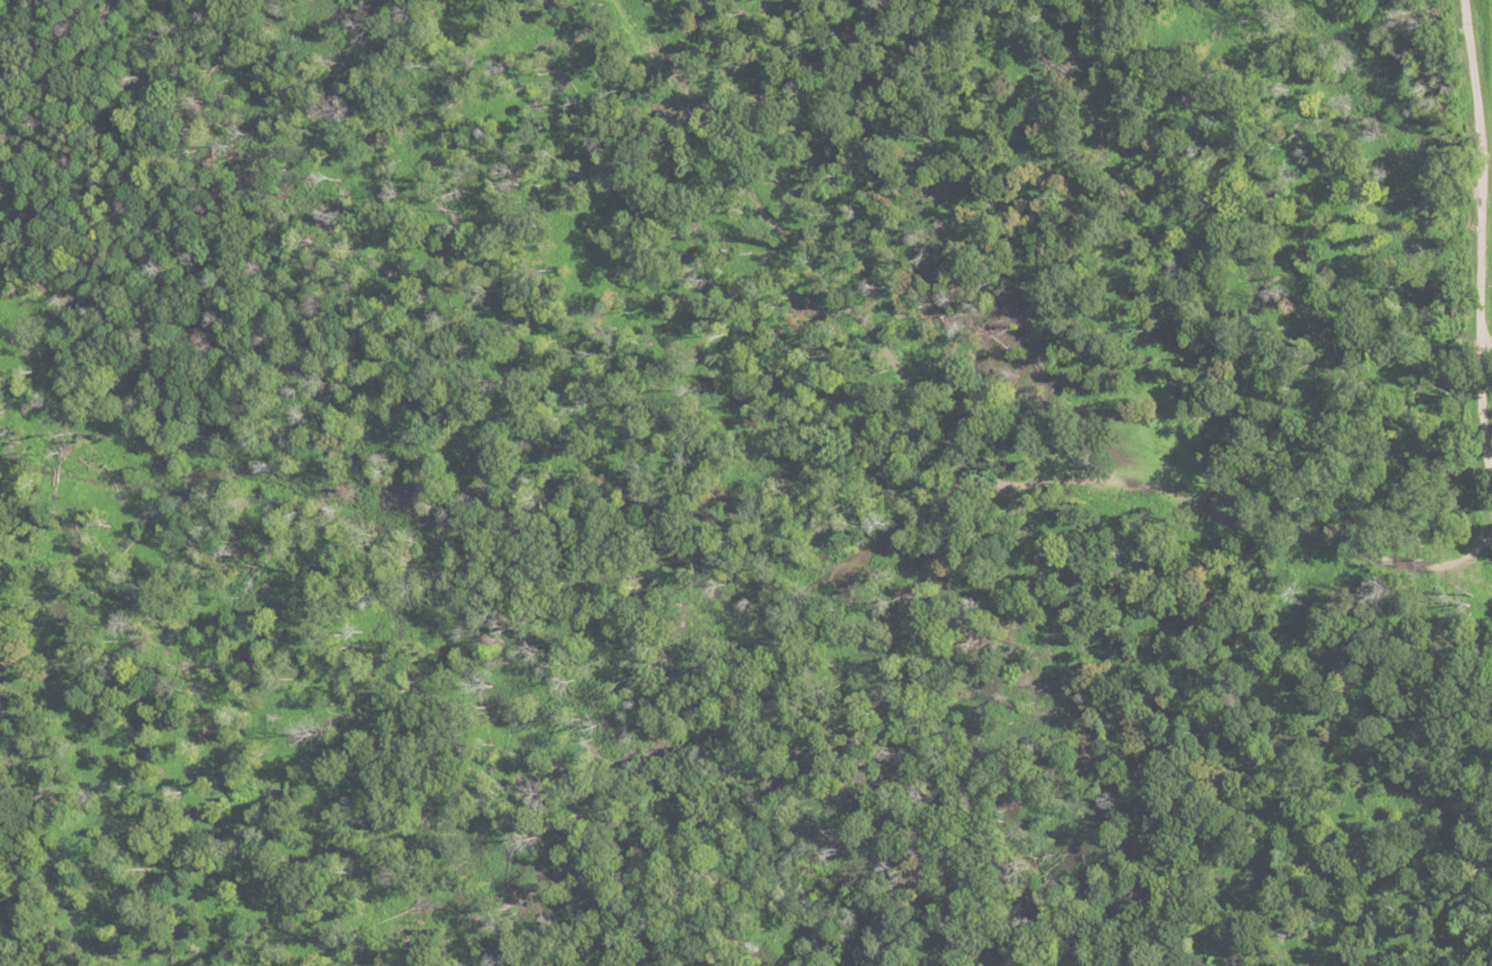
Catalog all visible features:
crop: (1486, 116)
road: (1478, 239)
road: (1485, 343)

